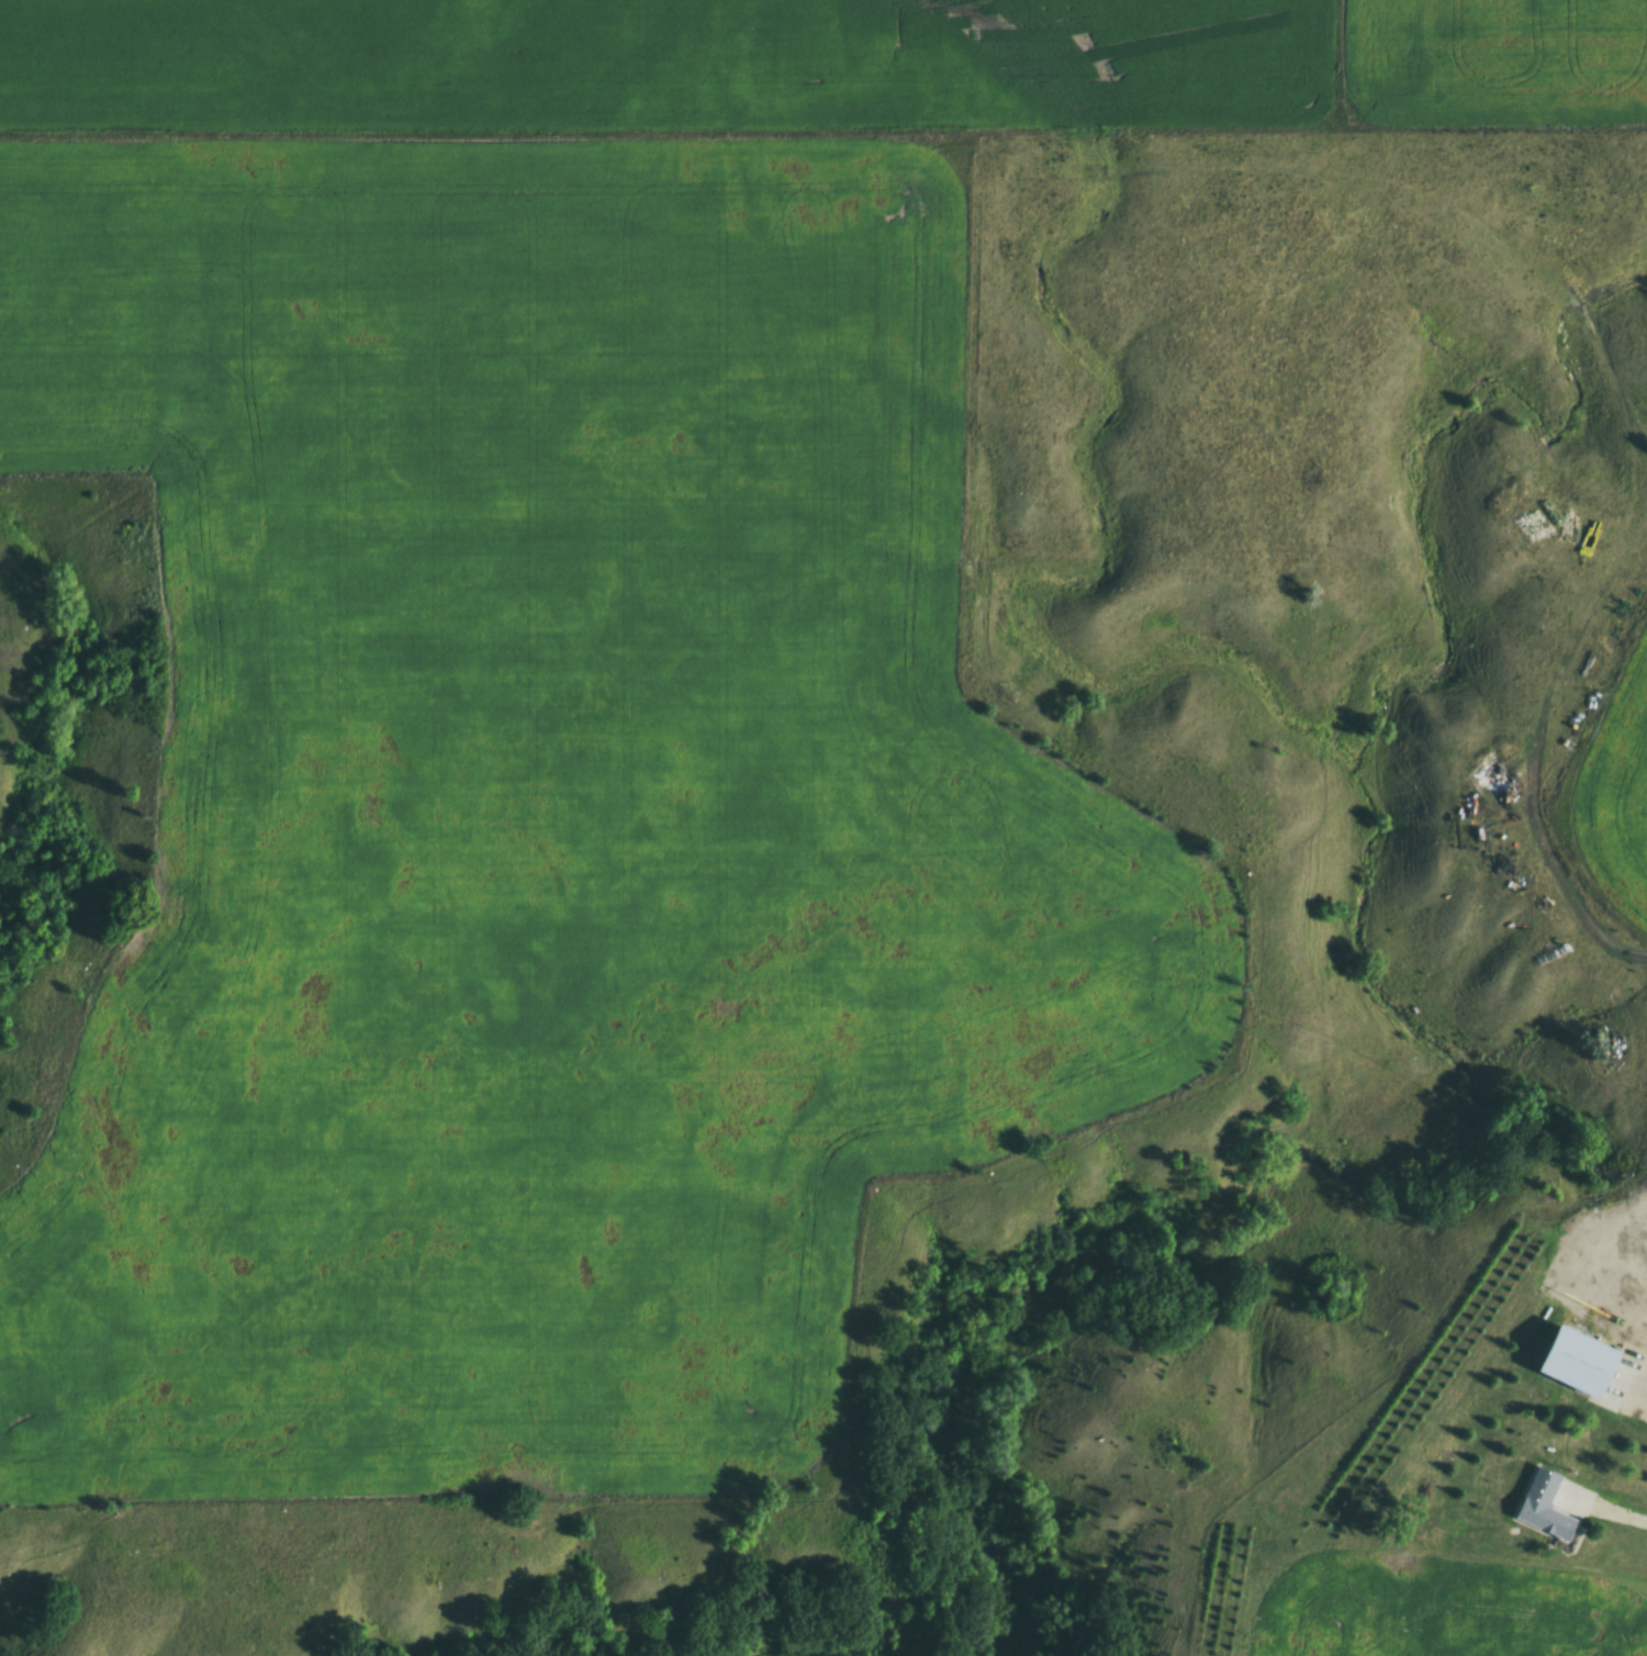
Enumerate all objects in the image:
building: (1588, 1366)
building: (1545, 1507)

